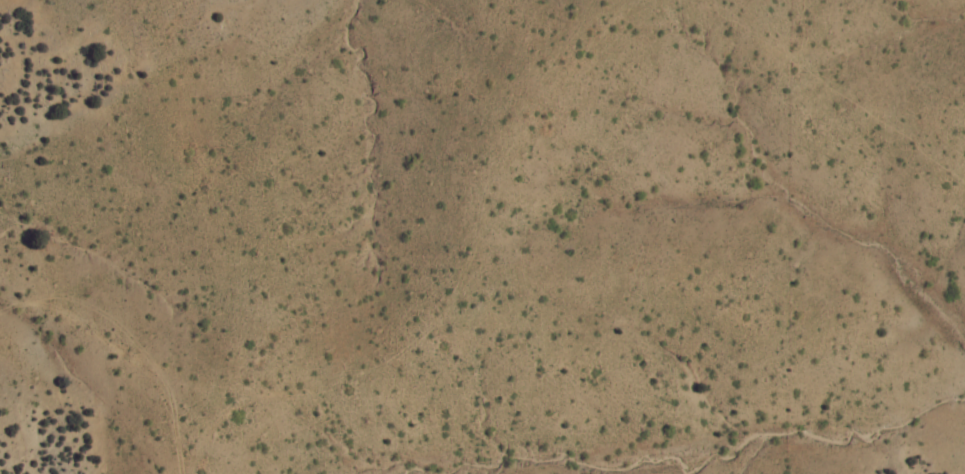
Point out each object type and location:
road: (405, 327)
road: (808, 439)

